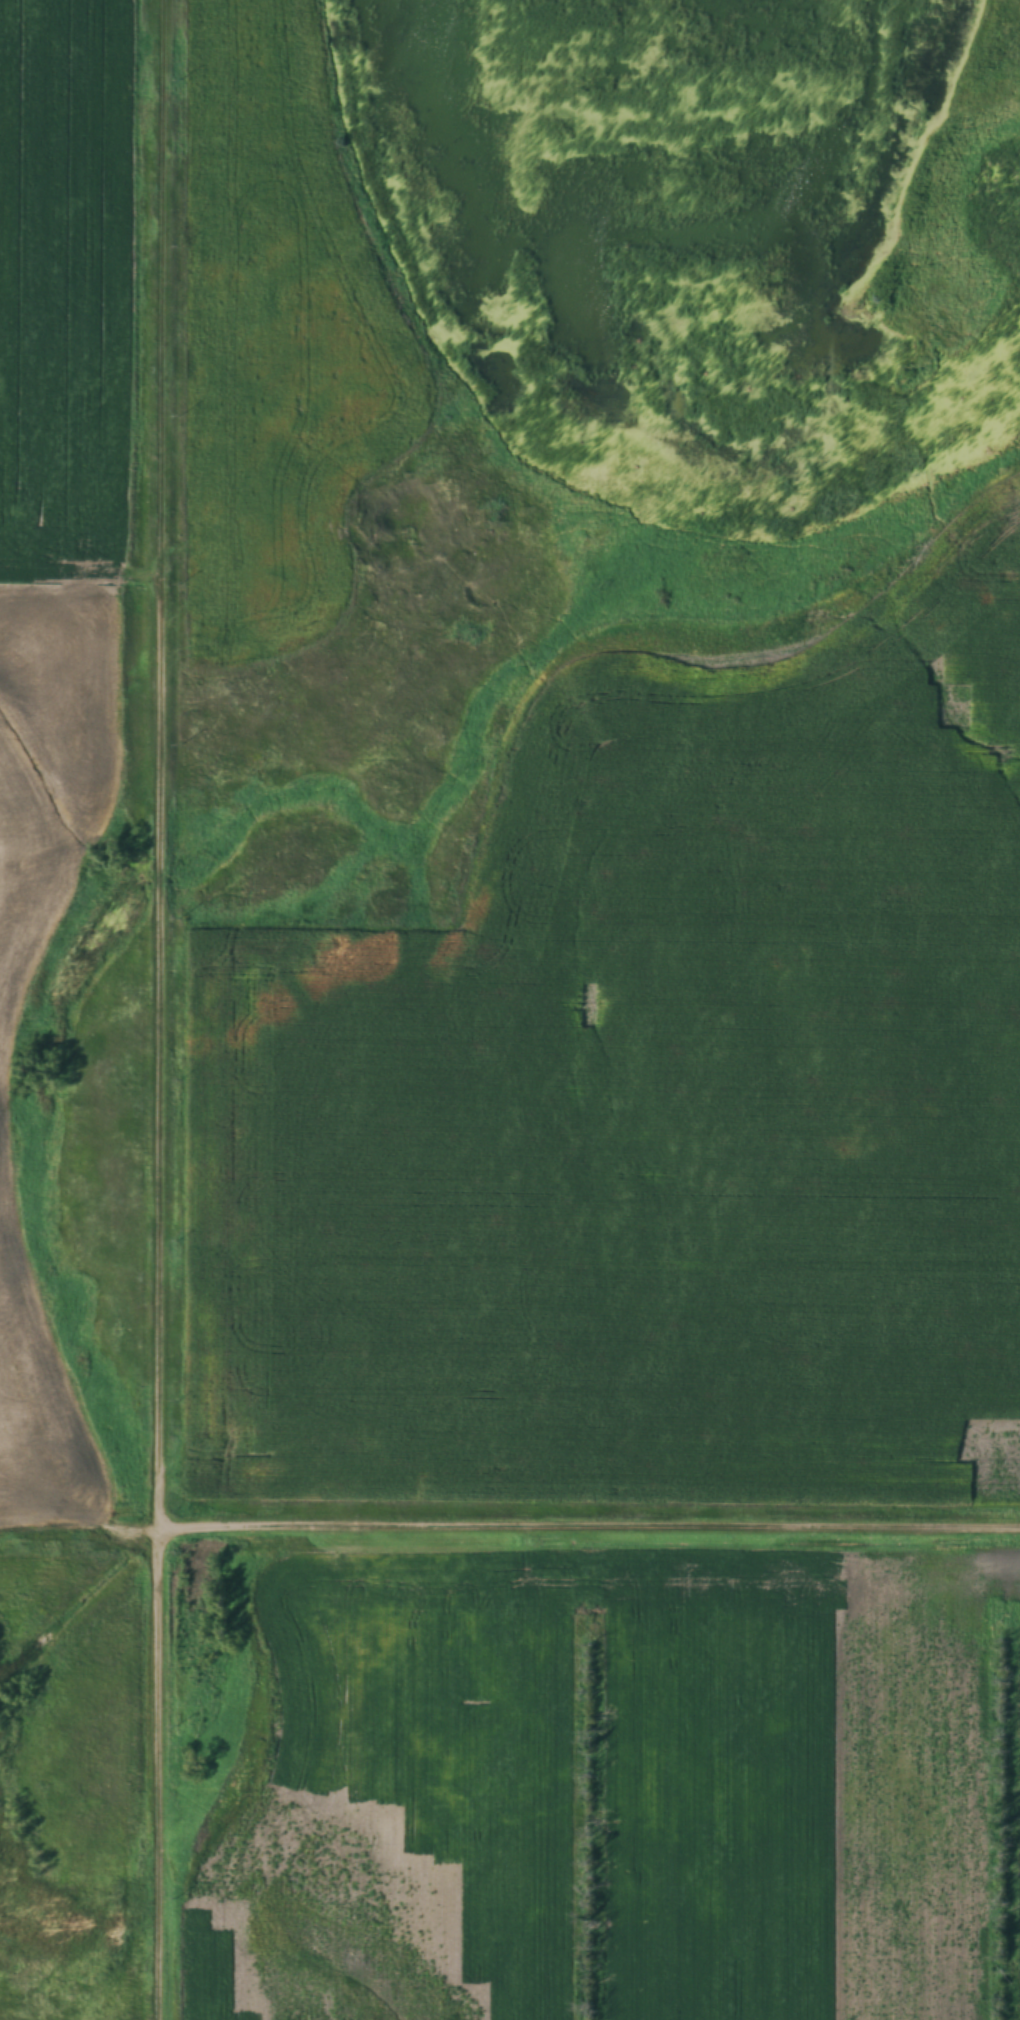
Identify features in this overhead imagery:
crop: (278, 341)
crop: (51, 768)
road: (164, 1010)
crop: (37, 1422)
road: (592, 1528)

